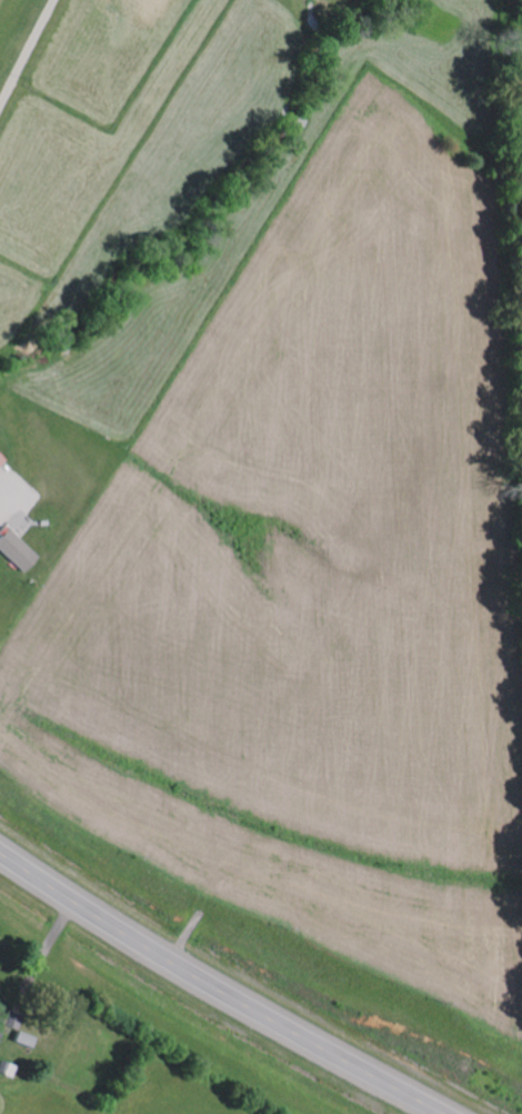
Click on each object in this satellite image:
building: (0, 458)
building: (16, 549)
road: (217, 987)
building: (22, 1037)

